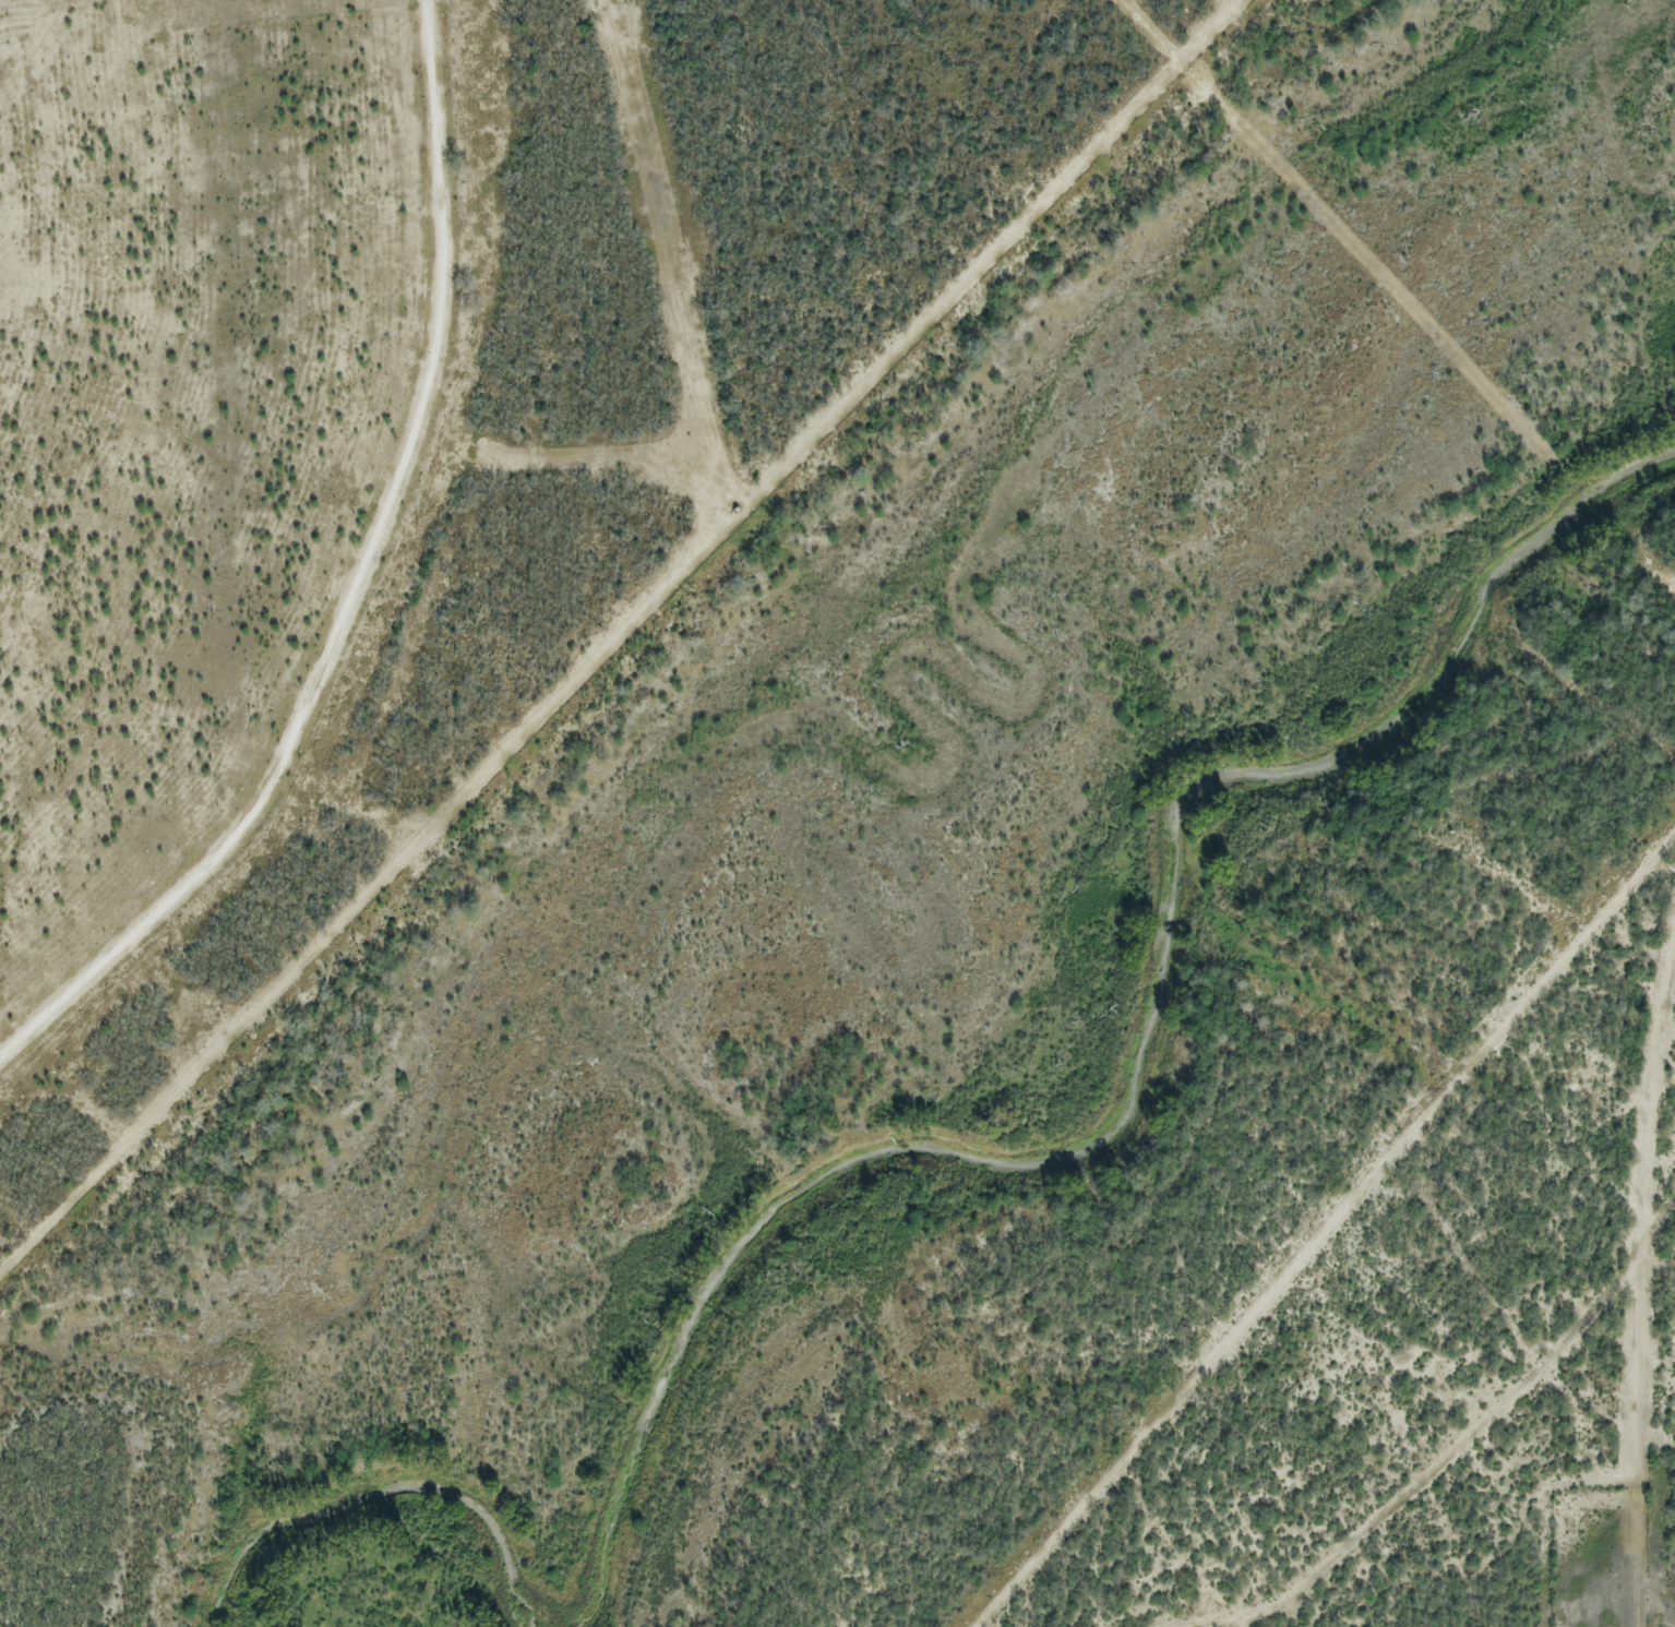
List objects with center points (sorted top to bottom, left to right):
road: (350, 584)
river: (1136, 1086)
road: (1486, 1436)

